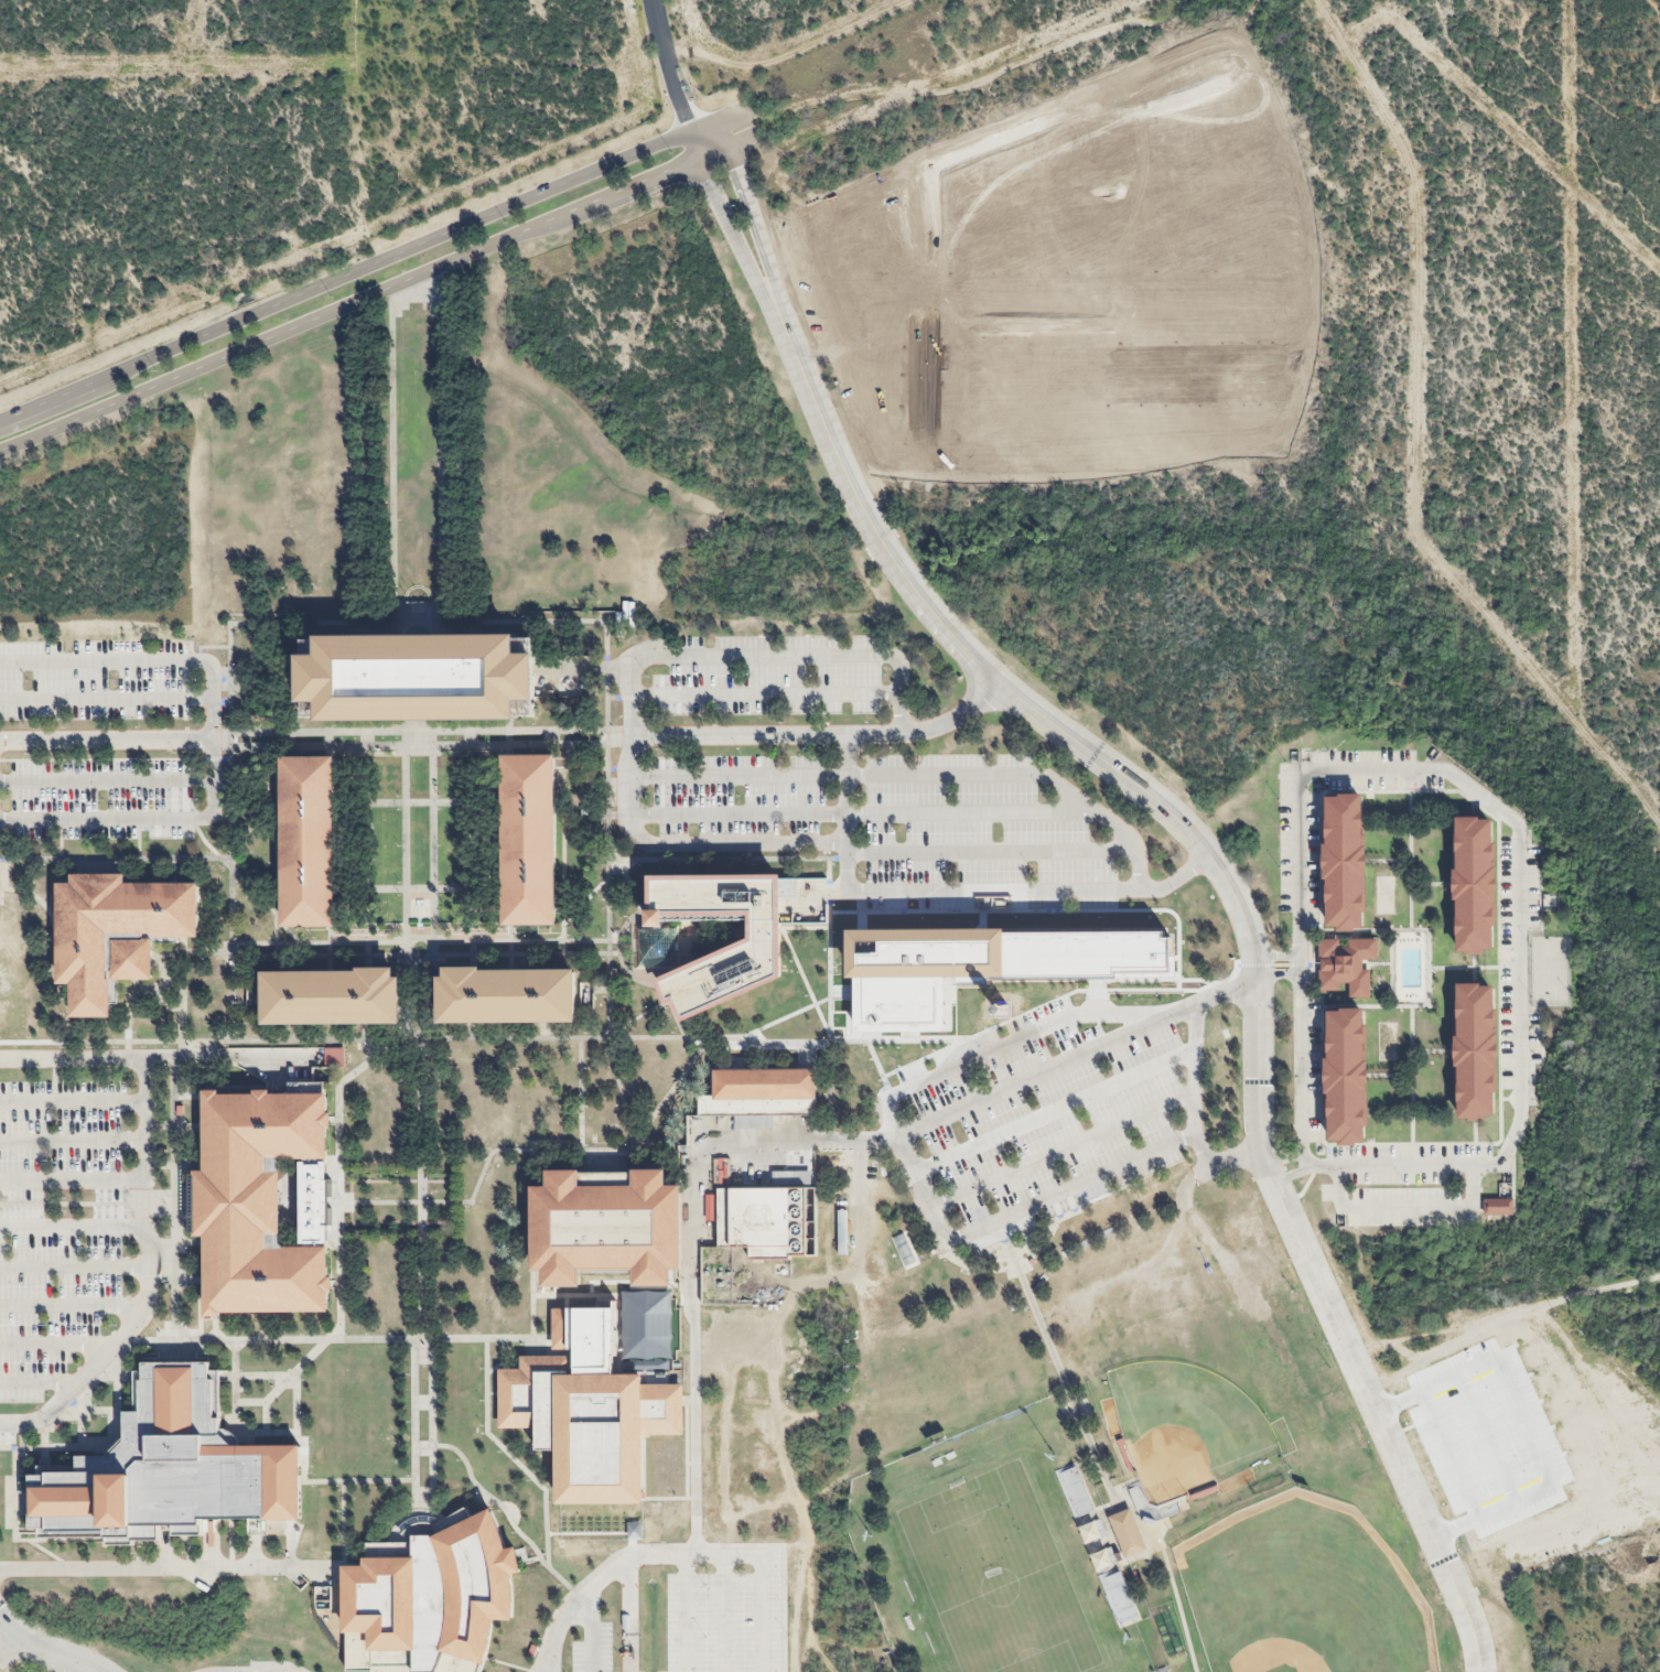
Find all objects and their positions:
road: (671, 65)
road: (724, 132)
road: (731, 228)
road: (758, 233)
road: (359, 268)
road: (364, 296)
road: (431, 454)
road: (391, 463)
road: (863, 513)
road: (418, 619)
road: (775, 656)
road: (636, 660)
road: (107, 662)
parking lot: (770, 673)
building: (412, 677)
parking lot: (96, 680)
road: (901, 686)
road: (765, 692)
road: (618, 694)
road: (106, 698)
road: (953, 716)
road: (420, 726)
road: (765, 735)
road: (214, 738)
road: (422, 738)
road: (107, 743)
road: (834, 775)
road: (107, 777)
road: (1475, 794)
parking lot: (741, 796)
parking lot: (104, 799)
road: (418, 802)
road: (860, 810)
road: (851, 812)
road: (108, 817)
road: (1108, 818)
road: (233, 831)
parking lot: (975, 839)
building: (528, 840)
building: (308, 842)
road: (433, 844)
road: (405, 845)
road: (670, 846)
road: (994, 853)
road: (116, 859)
road: (719, 859)
building: (1339, 862)
road: (1224, 876)
road: (629, 882)
building: (1472, 884)
road: (418, 888)
road: (1035, 888)
road: (607, 895)
park: (1384, 895)
road: (1015, 910)
road: (845, 914)
road: (48, 919)
building: (112, 934)
road: (1176, 947)
building: (651, 948)
road: (378, 951)
road: (1275, 957)
building: (739, 958)
road: (793, 959)
building: (980, 967)
building: (1343, 967)
park: (1549, 968)
road: (1276, 975)
road: (830, 991)
road: (1072, 991)
road: (1225, 993)
building: (507, 995)
building: (332, 997)
road: (786, 1016)
road: (634, 1018)
road: (677, 1021)
road: (1026, 1037)
road: (915, 1038)
road: (465, 1039)
park: (1387, 1042)
road: (824, 1043)
building: (1473, 1051)
road: (159, 1057)
road: (216, 1067)
road: (1046, 1071)
road: (1195, 1071)
building: (1341, 1076)
building: (762, 1085)
road: (72, 1100)
road: (579, 1104)
road: (337, 1108)
road: (1054, 1110)
parking lot: (1044, 1112)
road: (144, 1118)
road: (72, 1139)
road: (797, 1140)
road: (602, 1150)
road: (1063, 1152)
road: (173, 1157)
road: (1280, 1158)
road: (1309, 1162)
road: (1218, 1165)
road: (914, 1172)
road: (1300, 1173)
road: (72, 1179)
road: (1069, 1189)
road: (375, 1202)
road: (94, 1204)
building: (254, 1205)
road: (1402, 1207)
building: (1497, 1207)
building: (766, 1221)
parking lot: (58, 1227)
road: (72, 1227)
building: (601, 1228)
road: (420, 1236)
road: (528, 1244)
road: (72, 1269)
road: (337, 1275)
building: (822, 1298)
road: (71, 1307)
road: (323, 1341)
road: (57, 1342)
road: (693, 1346)
road: (107, 1351)
road: (1061, 1377)
road: (1436, 1381)
road: (37, 1382)
road: (1528, 1418)
road: (1380, 1422)
building: (585, 1426)
stadium: (1186, 1430)
road: (1489, 1435)
parking lot: (1476, 1441)
road: (1448, 1453)
road: (508, 1456)
building: (161, 1474)
road: (359, 1484)
building: (1075, 1491)
road: (1494, 1508)
road: (502, 1514)
building: (1091, 1531)
building: (1127, 1534)
road: (212, 1544)
road: (694, 1553)
building: (1103, 1558)
road: (615, 1565)
road: (170, 1567)
park: (996, 1574)
stadium: (1303, 1593)
building: (425, 1598)
road: (762, 1611)
road: (683, 1612)
road: (722, 1612)
parking lot: (724, 1620)
building: (902, 1629)
road: (592, 1631)
road: (42, 1650)
parking lot: (590, 1650)
road: (551, 1664)

